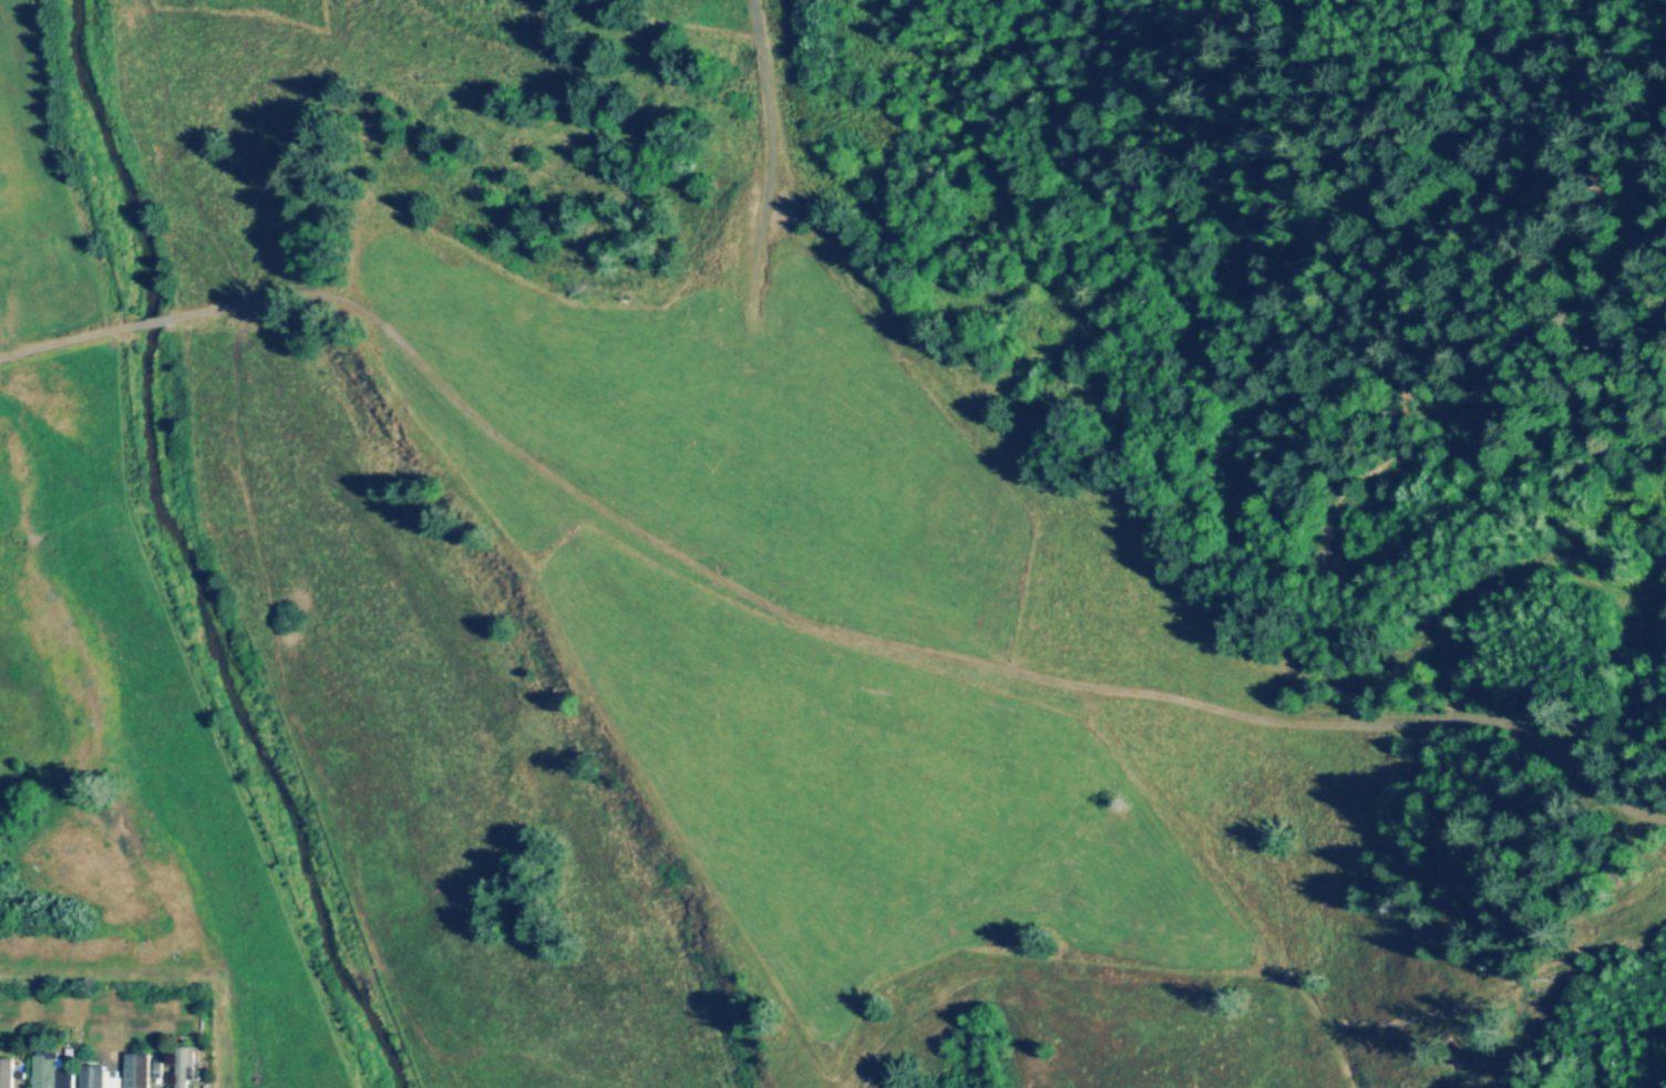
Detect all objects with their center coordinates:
road: (775, 133)
road: (162, 323)
road: (66, 343)
river: (186, 559)
road: (891, 644)
building: (186, 1067)
building: (54, 1070)
building: (140, 1070)
building: (7, 1073)
building: (95, 1077)

